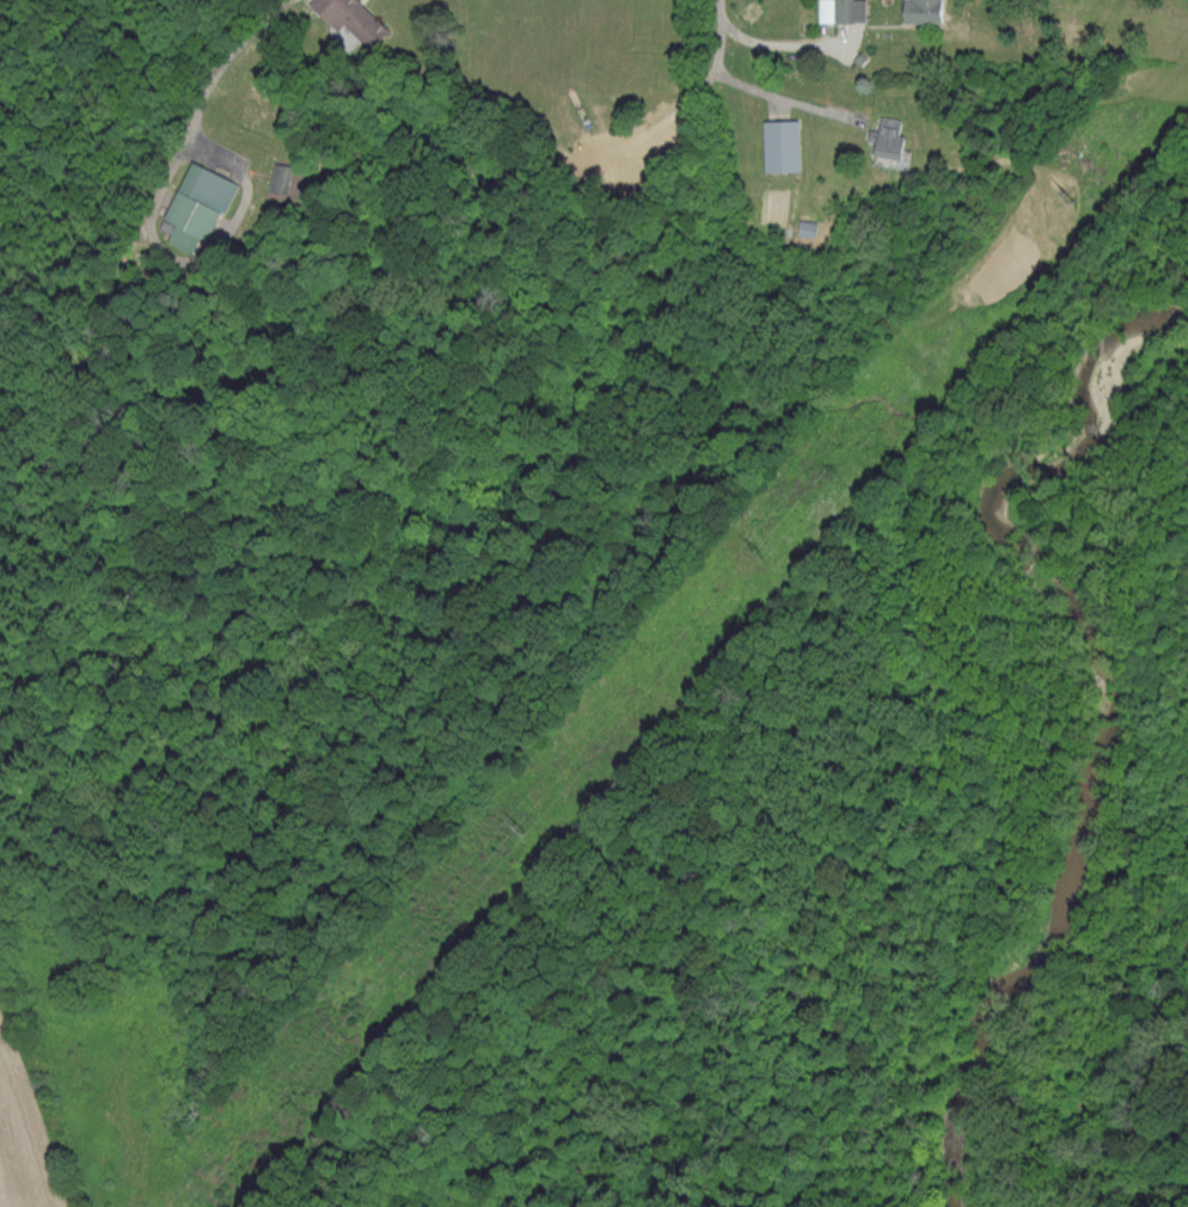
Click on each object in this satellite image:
building: (841, 11)
building: (925, 11)
building: (351, 18)
road: (778, 41)
road: (207, 68)
road: (751, 85)
building: (894, 140)
building: (783, 146)
building: (641, 147)
building: (284, 178)
power tower: (1079, 196)
building: (198, 206)
power tower: (768, 549)
power tower: (527, 827)

